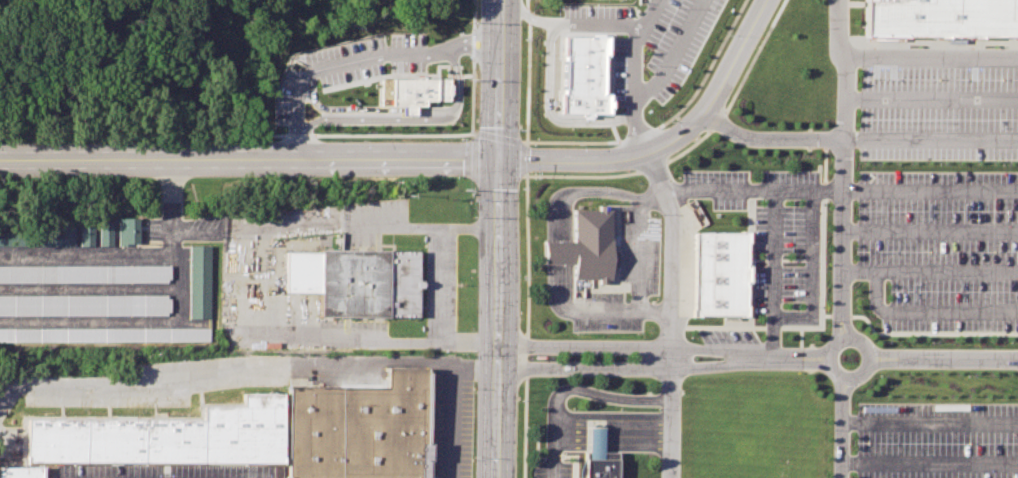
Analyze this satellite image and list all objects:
road: (526, 3)
building: (935, 13)
road: (647, 14)
road: (526, 15)
road: (566, 24)
road: (472, 39)
road: (673, 53)
road: (752, 55)
road: (929, 59)
road: (346, 60)
parking lot: (345, 62)
road: (705, 68)
road: (841, 68)
building: (584, 74)
road: (612, 74)
road: (498, 79)
road: (526, 83)
building: (413, 86)
road: (634, 90)
building: (384, 91)
road: (310, 98)
road: (929, 100)
road: (549, 111)
road: (423, 119)
road: (612, 119)
road: (310, 120)
road: (715, 121)
road: (615, 133)
road: (637, 135)
road: (498, 137)
road: (667, 139)
road: (928, 141)
road: (571, 142)
road: (292, 143)
road: (658, 144)
road: (685, 147)
road: (626, 156)
traffic signals: (497, 159)
road: (525, 159)
road: (248, 161)
road: (649, 166)
road: (840, 167)
road: (581, 175)
parking lot: (927, 184)
road: (929, 190)
road: (808, 197)
building: (127, 230)
road: (929, 231)
building: (104, 233)
building: (84, 235)
parking lot: (772, 235)
building: (584, 245)
road: (559, 250)
road: (637, 258)
building: (710, 265)
road: (929, 271)
building: (83, 272)
road: (772, 273)
building: (355, 280)
parking lot: (624, 280)
building: (203, 281)
road: (437, 287)
building: (85, 305)
road: (665, 311)
road: (928, 313)
road: (496, 318)
building: (104, 334)
parking lot: (726, 336)
road: (841, 339)
road: (613, 343)
road: (779, 357)
road: (944, 357)
road: (222, 368)
road: (613, 371)
road: (570, 390)
parking lot: (450, 416)
road: (930, 421)
road: (448, 423)
road: (610, 423)
road: (842, 428)
building: (357, 429)
road: (610, 431)
building: (164, 439)
road: (610, 439)
building: (595, 440)
parking lot: (938, 441)
road: (610, 447)
road: (930, 462)
building: (600, 465)
parking lot: (552, 469)
parking lot: (155, 471)

